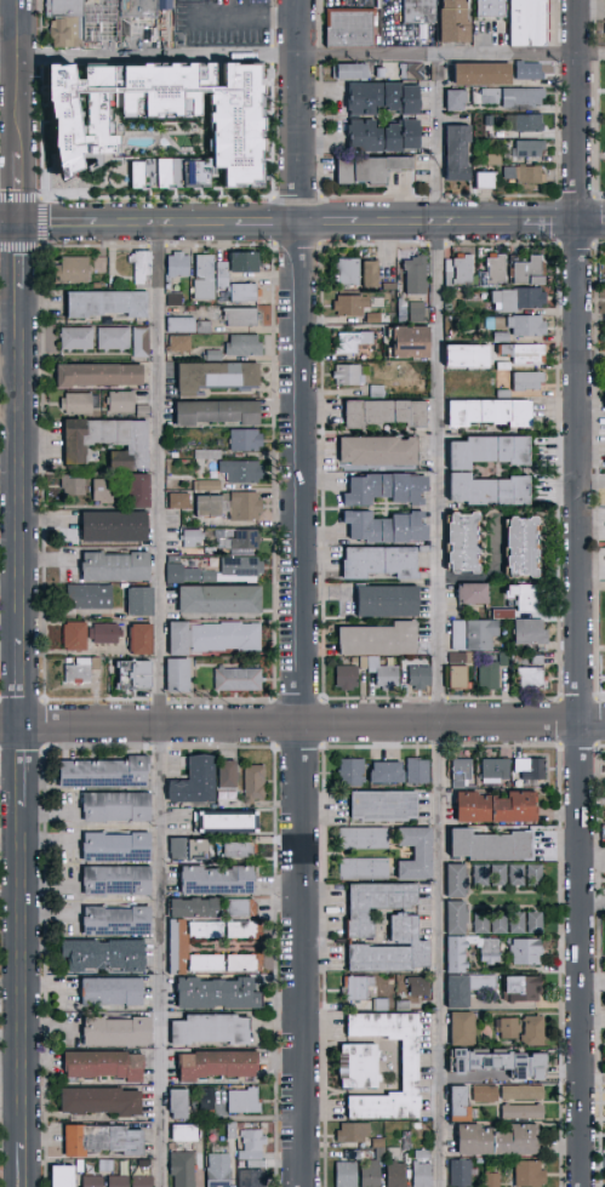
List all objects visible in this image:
road: (593, 4)
building: (381, 5)
building: (145, 7)
building: (484, 7)
building: (416, 10)
road: (238, 21)
building: (447, 22)
building: (523, 22)
building: (68, 23)
road: (103, 28)
building: (353, 28)
building: (604, 32)
road: (12, 38)
road: (302, 57)
building: (413, 72)
building: (531, 72)
building: (604, 72)
building: (353, 73)
building: (484, 75)
road: (23, 79)
building: (512, 98)
building: (457, 101)
building: (356, 119)
building: (160, 122)
building: (531, 129)
building: (531, 149)
building: (460, 154)
building: (496, 160)
building: (371, 170)
building: (527, 176)
building: (489, 181)
road: (22, 192)
building: (239, 195)
road: (302, 224)
traffic signals: (22, 226)
road: (22, 258)
building: (247, 264)
building: (178, 268)
building: (144, 269)
building: (461, 270)
building: (495, 270)
building: (530, 270)
building: (74, 272)
building: (348, 272)
building: (372, 273)
building: (417, 274)
building: (224, 275)
building: (206, 279)
building: (392, 286)
building: (246, 293)
building: (520, 298)
building: (177, 299)
building: (108, 304)
building: (353, 306)
building: (404, 308)
building: (418, 312)
building: (244, 318)
building: (376, 318)
building: (520, 325)
building: (190, 326)
building: (503, 337)
building: (79, 339)
building: (116, 339)
building: (354, 341)
building: (412, 341)
building: (143, 343)
building: (182, 344)
building: (246, 347)
building: (525, 352)
building: (461, 355)
building: (215, 356)
building: (506, 367)
building: (352, 375)
building: (101, 376)
building: (218, 377)
building: (530, 382)
building: (378, 390)
building: (506, 394)
building: (122, 403)
building: (81, 405)
building: (139, 410)
building: (145, 412)
building: (387, 412)
building: (491, 412)
building: (219, 415)
building: (247, 441)
building: (110, 443)
building: (379, 450)
building: (491, 450)
building: (209, 456)
road: (23, 463)
building: (244, 473)
building: (75, 486)
building: (210, 487)
building: (387, 489)
building: (491, 490)
building: (105, 492)
building: (141, 492)
building: (182, 502)
building: (233, 507)
building: (388, 526)
building: (116, 529)
building: (194, 540)
building: (466, 542)
building: (241, 543)
building: (525, 547)
building: (381, 563)
building: (118, 569)
building: (244, 572)
road: (302, 593)
building: (475, 593)
road: (582, 593)
building: (529, 597)
building: (91, 599)
building: (223, 601)
building: (389, 601)
building: (142, 604)
building: (506, 615)
road: (444, 621)
building: (531, 632)
building: (107, 634)
building: (475, 634)
building: (76, 638)
building: (216, 639)
building: (381, 639)
building: (143, 640)
building: (464, 658)
building: (507, 660)
building: (540, 661)
building: (365, 663)
building: (98, 666)
building: (80, 673)
building: (386, 674)
building: (490, 675)
building: (348, 677)
building: (136, 678)
building: (181, 678)
building: (421, 678)
building: (460, 678)
building: (533, 678)
road: (24, 680)
building: (240, 680)
road: (162, 706)
road: (302, 724)
road: (24, 766)
building: (497, 769)
building: (532, 769)
building: (419, 771)
building: (353, 772)
building: (107, 774)
building: (388, 774)
building: (463, 774)
building: (229, 775)
building: (198, 782)
building: (256, 783)
building: (490, 805)
building: (118, 806)
building: (386, 806)
building: (228, 822)
building: (365, 839)
building: (495, 846)
building: (119, 848)
building: (181, 850)
building: (241, 850)
building: (417, 854)
building: (366, 869)
building: (483, 875)
building: (501, 875)
building: (519, 875)
building: (536, 875)
building: (119, 880)
building: (219, 881)
building: (457, 881)
building: (196, 908)
building: (242, 908)
building: (457, 919)
building: (119, 921)
building: (536, 923)
building: (483, 924)
building: (501, 924)
building: (519, 924)
building: (361, 930)
building: (209, 931)
building: (246, 931)
building: (179, 947)
building: (527, 952)
building: (492, 955)
building: (105, 957)
building: (209, 963)
building: (246, 963)
road: (24, 975)
building: (421, 987)
building: (469, 988)
building: (358, 989)
building: (524, 989)
building: (114, 993)
building: (218, 994)
building: (382, 1005)
building: (404, 1006)
building: (464, 1029)
building: (509, 1029)
building: (212, 1031)
building: (535, 1032)
building: (119, 1033)
building: (501, 1063)
building: (105, 1066)
building: (218, 1066)
building: (360, 1067)
building: (411, 1067)
building: (524, 1094)
building: (486, 1095)
building: (209, 1100)
building: (103, 1102)
building: (246, 1102)
building: (181, 1105)
building: (461, 1105)
building: (525, 1113)
building: (419, 1128)
building: (233, 1132)
building: (355, 1132)
building: (187, 1134)
building: (104, 1141)
building: (500, 1141)
building: (409, 1142)
building: (381, 1143)
building: (253, 1146)
building: (394, 1153)
building: (382, 1154)
building: (354, 1155)
road: (25, 1164)
building: (147, 1165)
building: (258, 1165)
building: (108, 1166)
building: (184, 1169)
building: (424, 1169)
building: (221, 1171)
building: (462, 1174)
building: (348, 1175)
building: (372, 1175)
building: (396, 1175)
building: (531, 1175)
building: (63, 1177)
building: (253, 1179)
building: (493, 1180)
building: (95, 1182)
building: (120, 1182)
building: (143, 1182)

